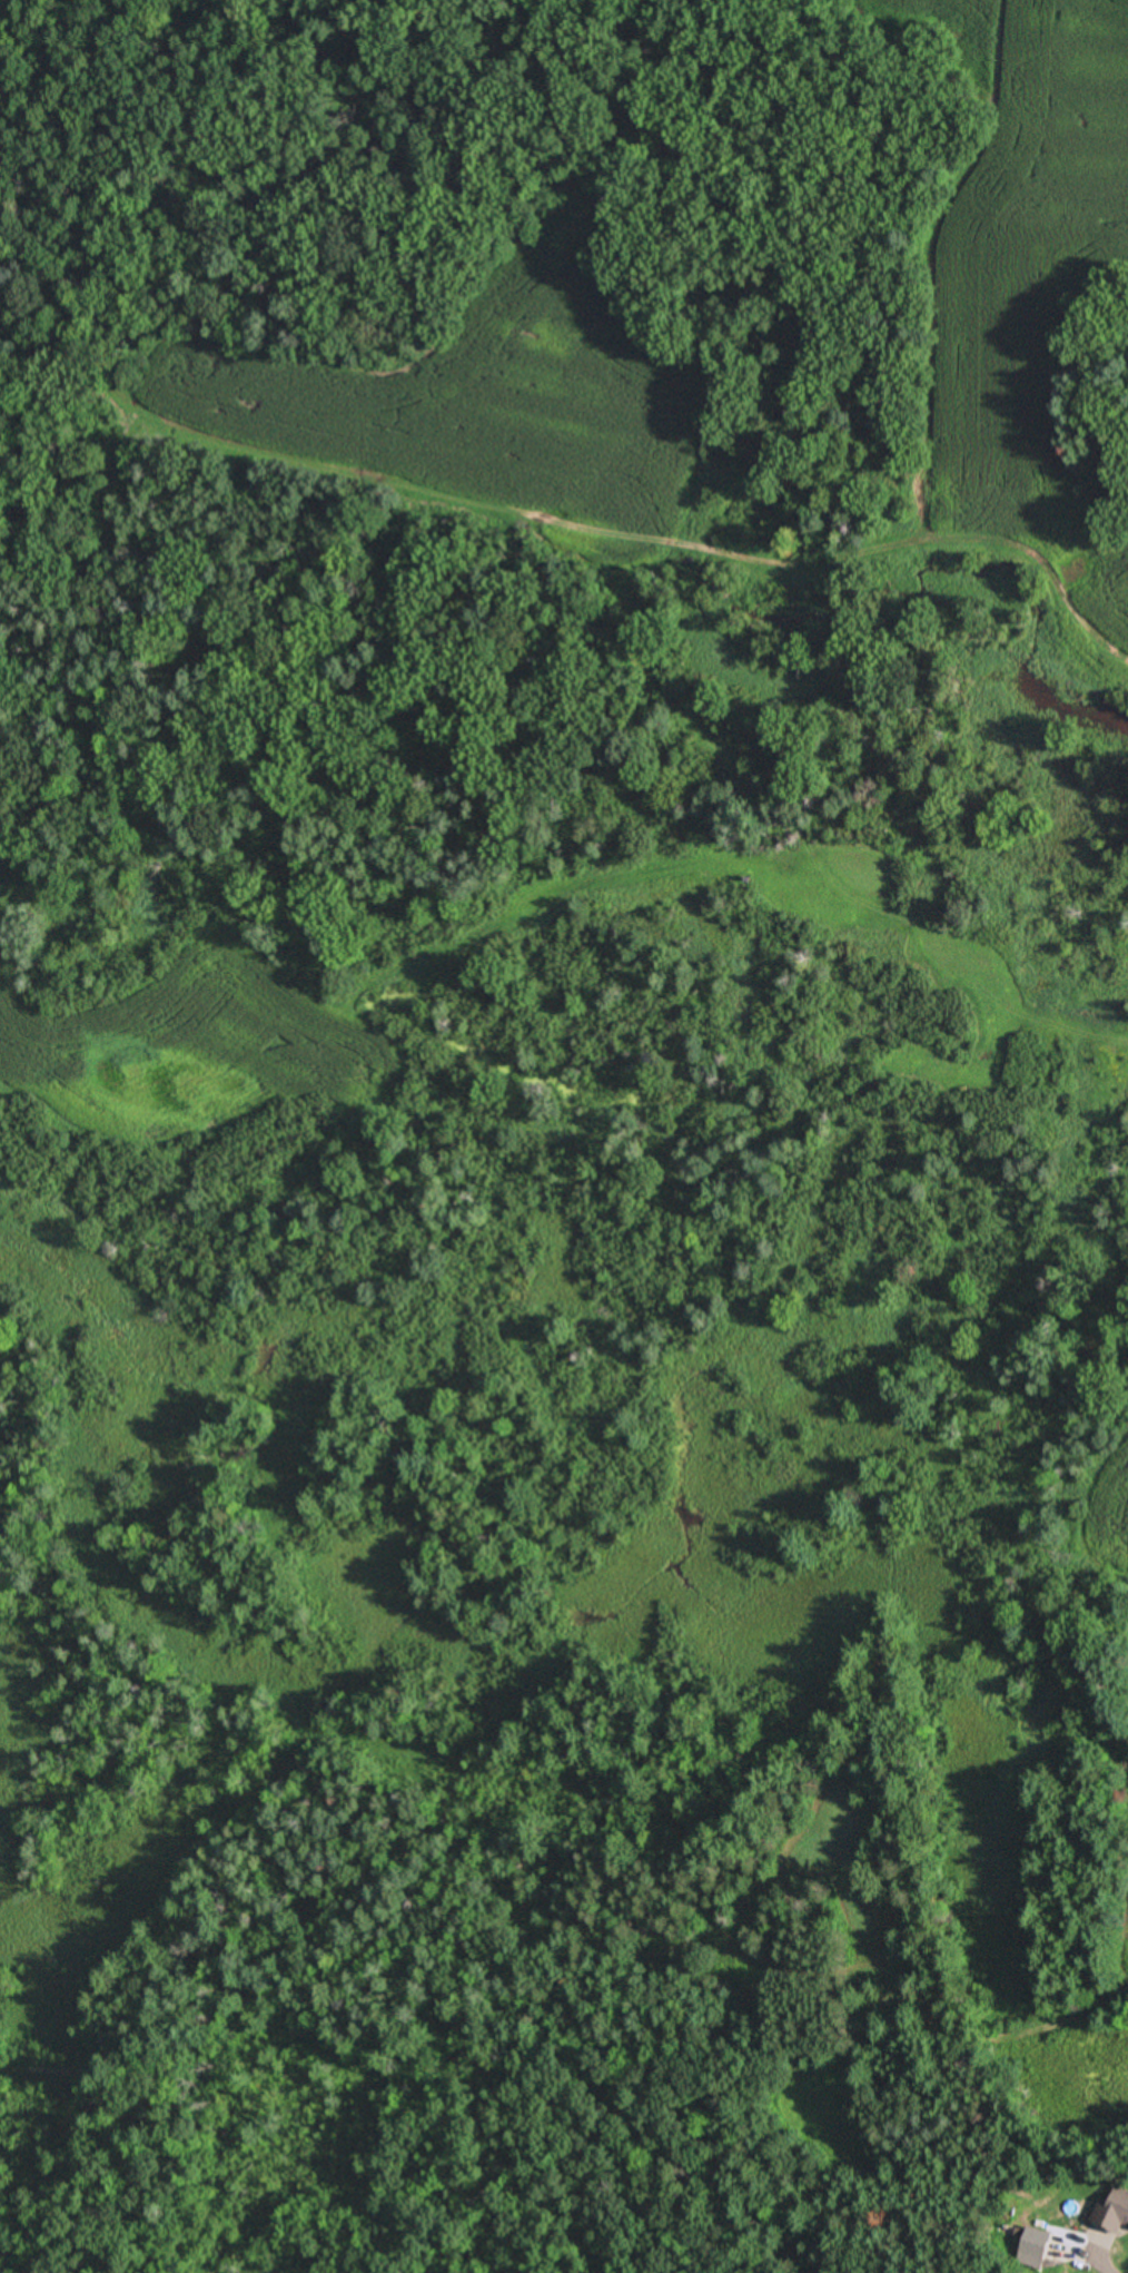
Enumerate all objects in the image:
building: (1116, 2210)
road: (1095, 2261)

